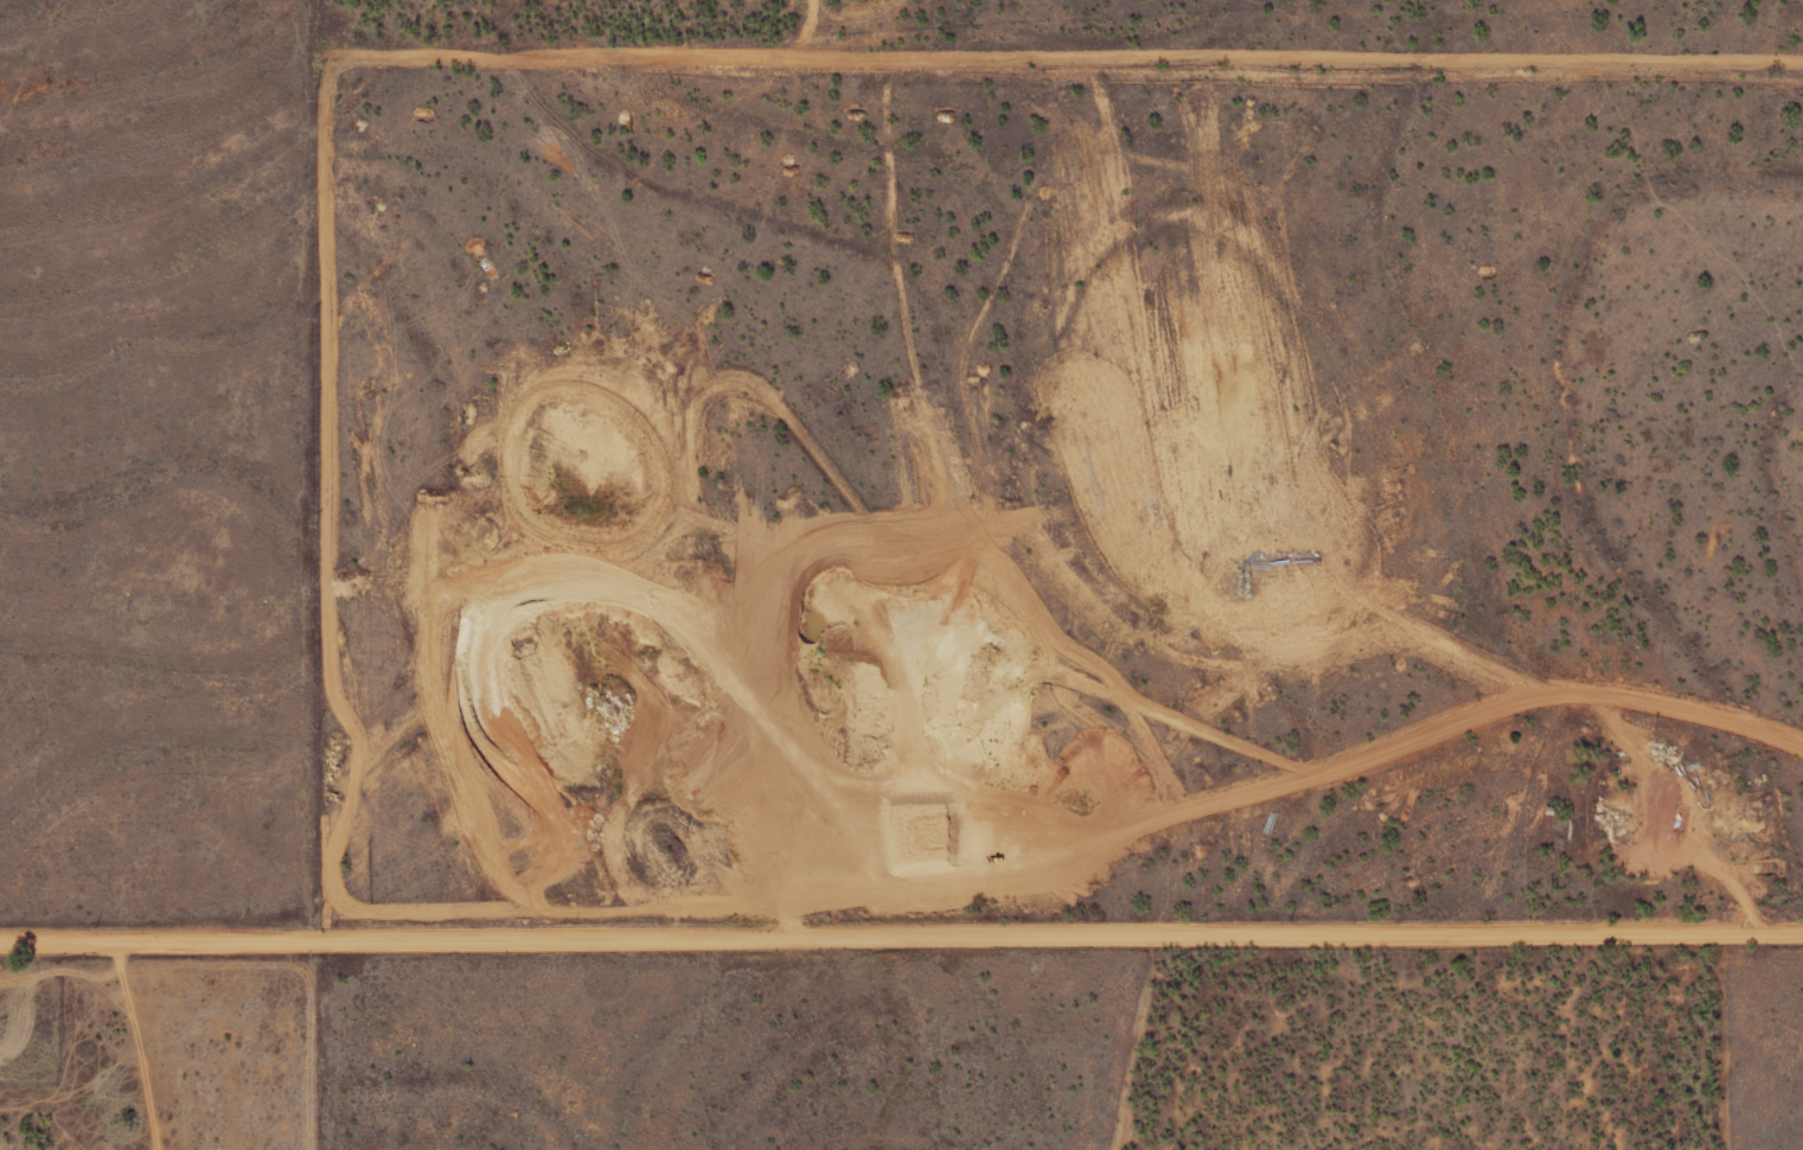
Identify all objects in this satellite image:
road: (901, 932)
road: (111, 1065)

